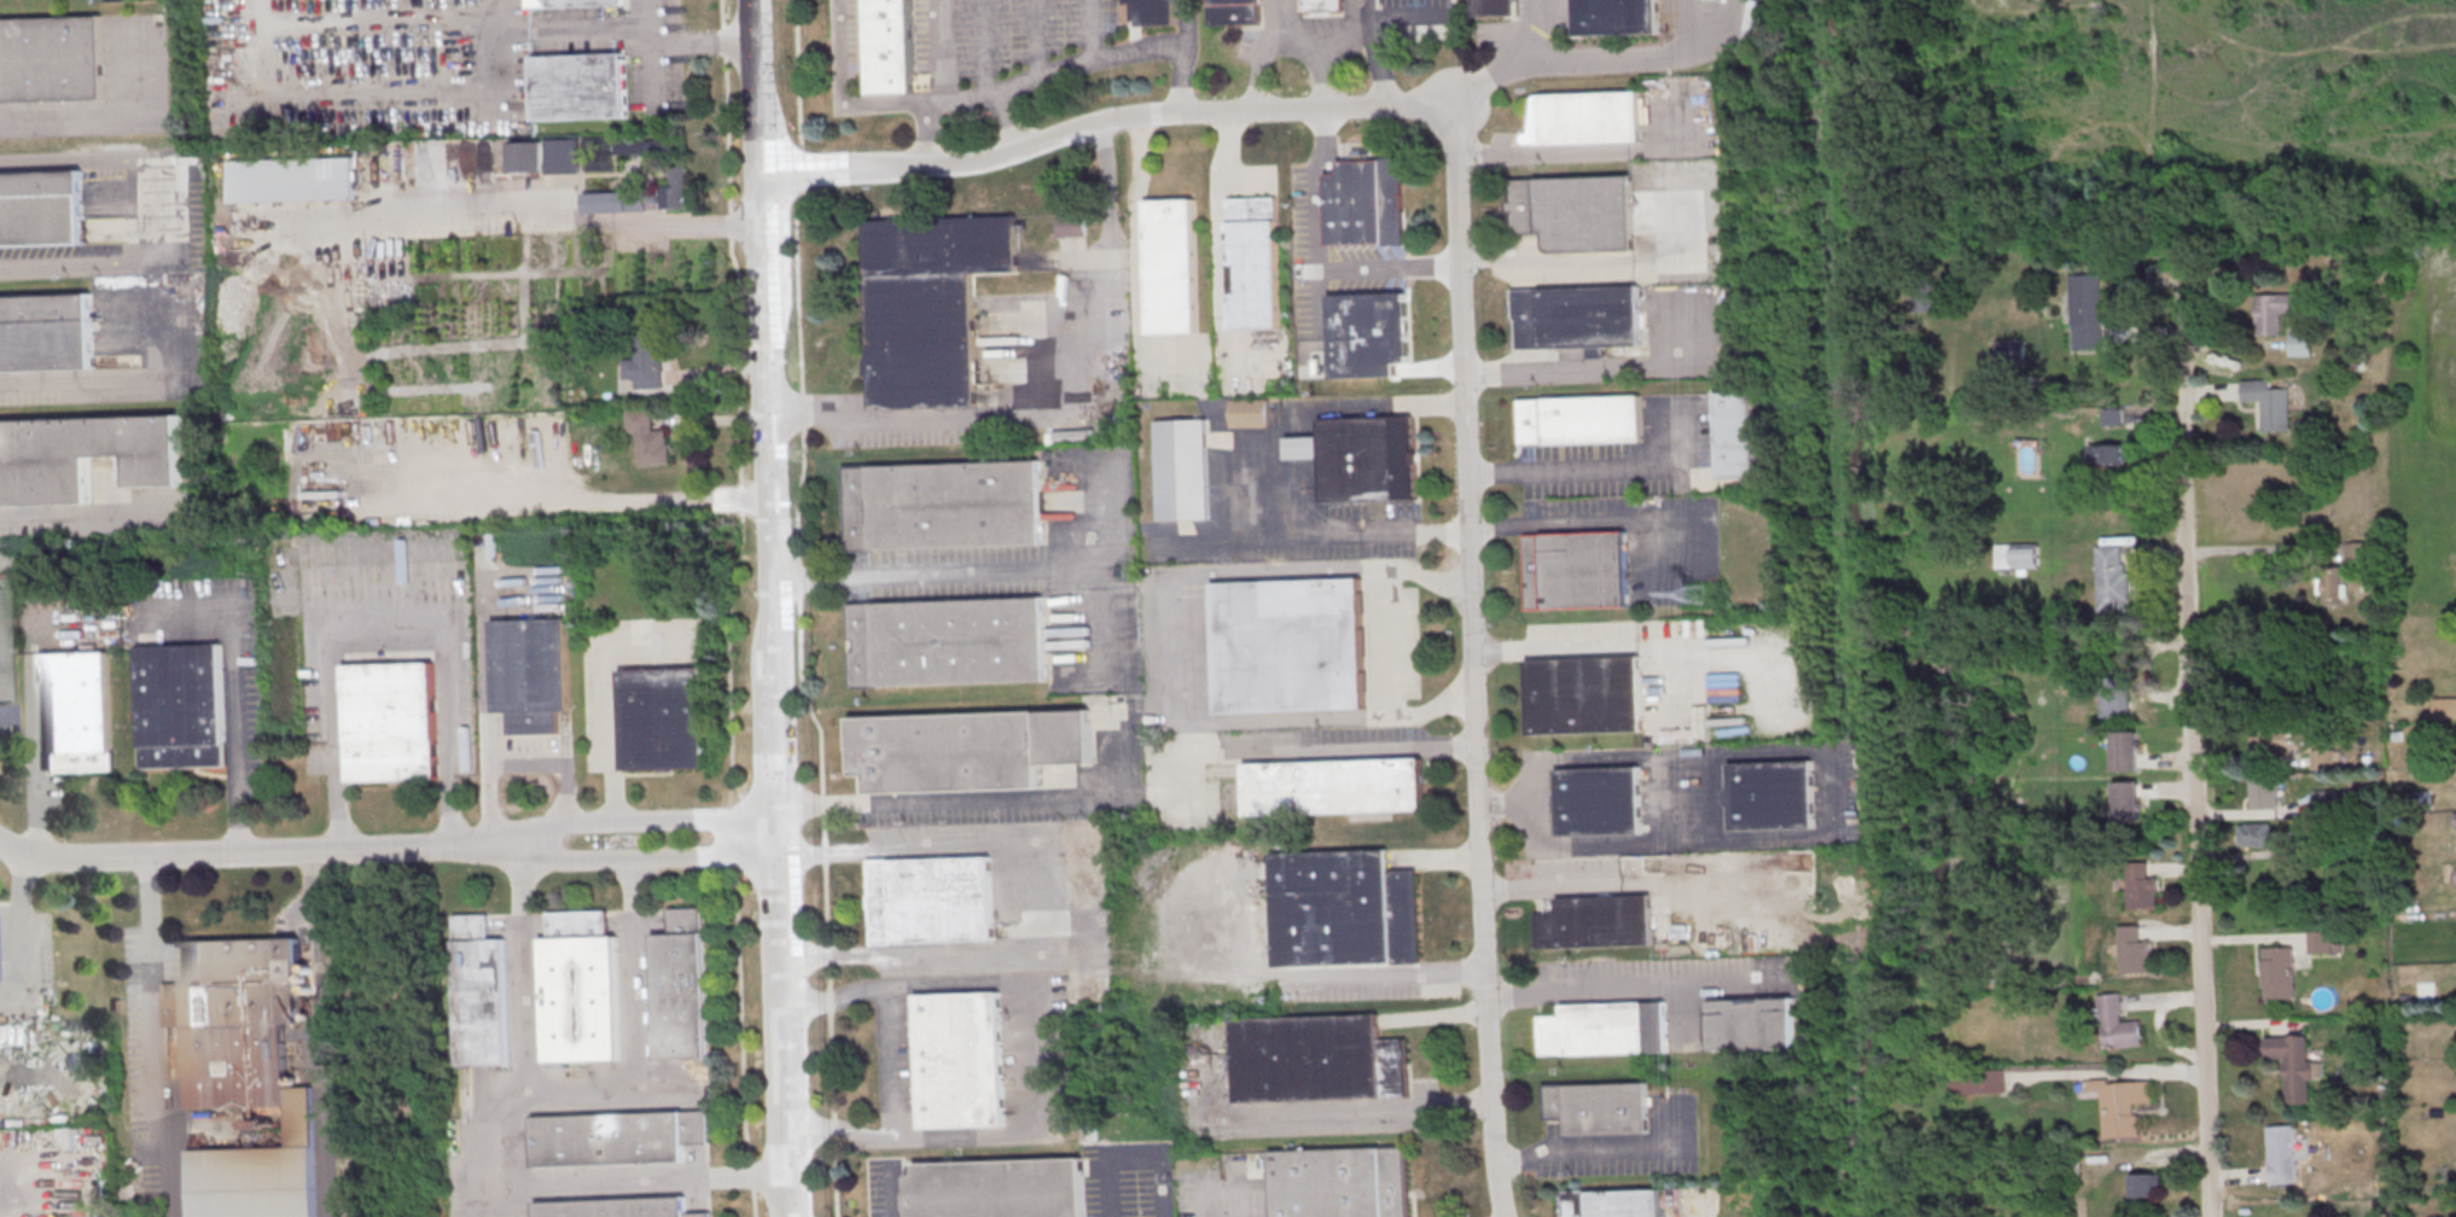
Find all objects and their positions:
building: (572, 2)
building: (1321, 5)
building: (1496, 7)
building: (1233, 11)
building: (1154, 12)
building: (1617, 17)
road: (1543, 25)
road: (704, 45)
road: (1659, 45)
building: (890, 46)
road: (980, 46)
road: (657, 48)
road: (1378, 54)
building: (52, 59)
road: (1105, 62)
road: (1497, 70)
road: (1182, 77)
building: (581, 86)
parking lot: (109, 88)
road: (964, 95)
road: (890, 103)
road: (71, 112)
building: (1591, 118)
road: (1008, 120)
road: (925, 134)
road: (1048, 138)
building: (645, 151)
building: (564, 157)
building: (526, 158)
road: (1105, 167)
building: (292, 181)
building: (675, 192)
building: (630, 204)
building: (1366, 204)
building: (41, 206)
road: (568, 210)
building: (1575, 211)
road: (1663, 233)
road: (1319, 254)
building: (1253, 262)
building: (1171, 266)
road: (1542, 266)
road: (95, 268)
building: (1924, 298)
building: (927, 304)
building: (2087, 313)
building: (1577, 316)
building: (2270, 316)
building: (46, 332)
road: (764, 332)
building: (1368, 333)
building: (2300, 344)
building: (2012, 351)
building: (648, 357)
road: (1664, 368)
road: (1533, 373)
road: (85, 383)
road: (1060, 403)
building: (2271, 404)
road: (1304, 407)
building: (1249, 412)
building: (2112, 417)
building: (1581, 421)
road: (813, 424)
building: (1738, 433)
building: (651, 439)
building: (2112, 454)
building: (82, 456)
building: (1368, 460)
road: (1595, 467)
building: (1182, 470)
road: (799, 497)
building: (613, 502)
building: (943, 505)
road: (1593, 524)
road: (1323, 534)
building: (2358, 551)
building: (2018, 555)
road: (1101, 560)
building: (1575, 569)
road: (936, 572)
building: (2113, 581)
building: (2333, 586)
power tower: (1694, 594)
road: (1468, 599)
road: (732, 607)
road: (1393, 641)
building: (948, 642)
building: (1288, 645)
road: (1550, 646)
road: (1181, 648)
building: (1, 663)
building: (532, 675)
building: (1584, 694)
road: (234, 699)
road: (610, 699)
building: (2119, 699)
building: (181, 705)
building: (76, 710)
building: (2446, 710)
building: (664, 718)
building: (390, 722)
road: (770, 741)
building: (2277, 746)
building: (967, 749)
road: (1299, 751)
building: (2125, 753)
road: (2199, 756)
building: (2326, 759)
building: (1334, 786)
building: (2265, 794)
building: (1771, 796)
road: (974, 800)
building: (1599, 800)
building: (2125, 803)
road: (642, 820)
building: (2257, 834)
road: (256, 850)
road: (641, 856)
road: (1525, 886)
building: (2142, 890)
road: (1046, 897)
building: (931, 902)
building: (1343, 909)
building: (1596, 921)
road: (19, 931)
building: (2318, 941)
power tower: (1693, 953)
building: (2135, 954)
building: (2279, 974)
road: (1383, 976)
road: (1629, 985)
building: (582, 990)
building: (681, 990)
building: (482, 994)
road: (822, 1003)
road: (832, 1005)
road: (780, 1017)
building: (1752, 1023)
road: (636, 1024)
building: (2119, 1025)
road: (321, 1031)
building: (1605, 1031)
road: (155, 1036)
building: (1315, 1059)
building: (960, 1060)
road: (890, 1062)
road: (833, 1067)
building: (245, 1071)
building: (2298, 1071)
building: (1980, 1082)
road: (1046, 1102)
building: (2123, 1104)
road: (1361, 1110)
building: (1597, 1110)
road: (836, 1129)
building: (618, 1139)
road: (500, 1143)
building: (2282, 1147)
road: (1607, 1158)
road: (838, 1178)
building: (1338, 1182)
building: (2146, 1184)
building: (997, 1188)
road: (1197, 1199)
building: (1607, 1203)
building: (619, 1209)

